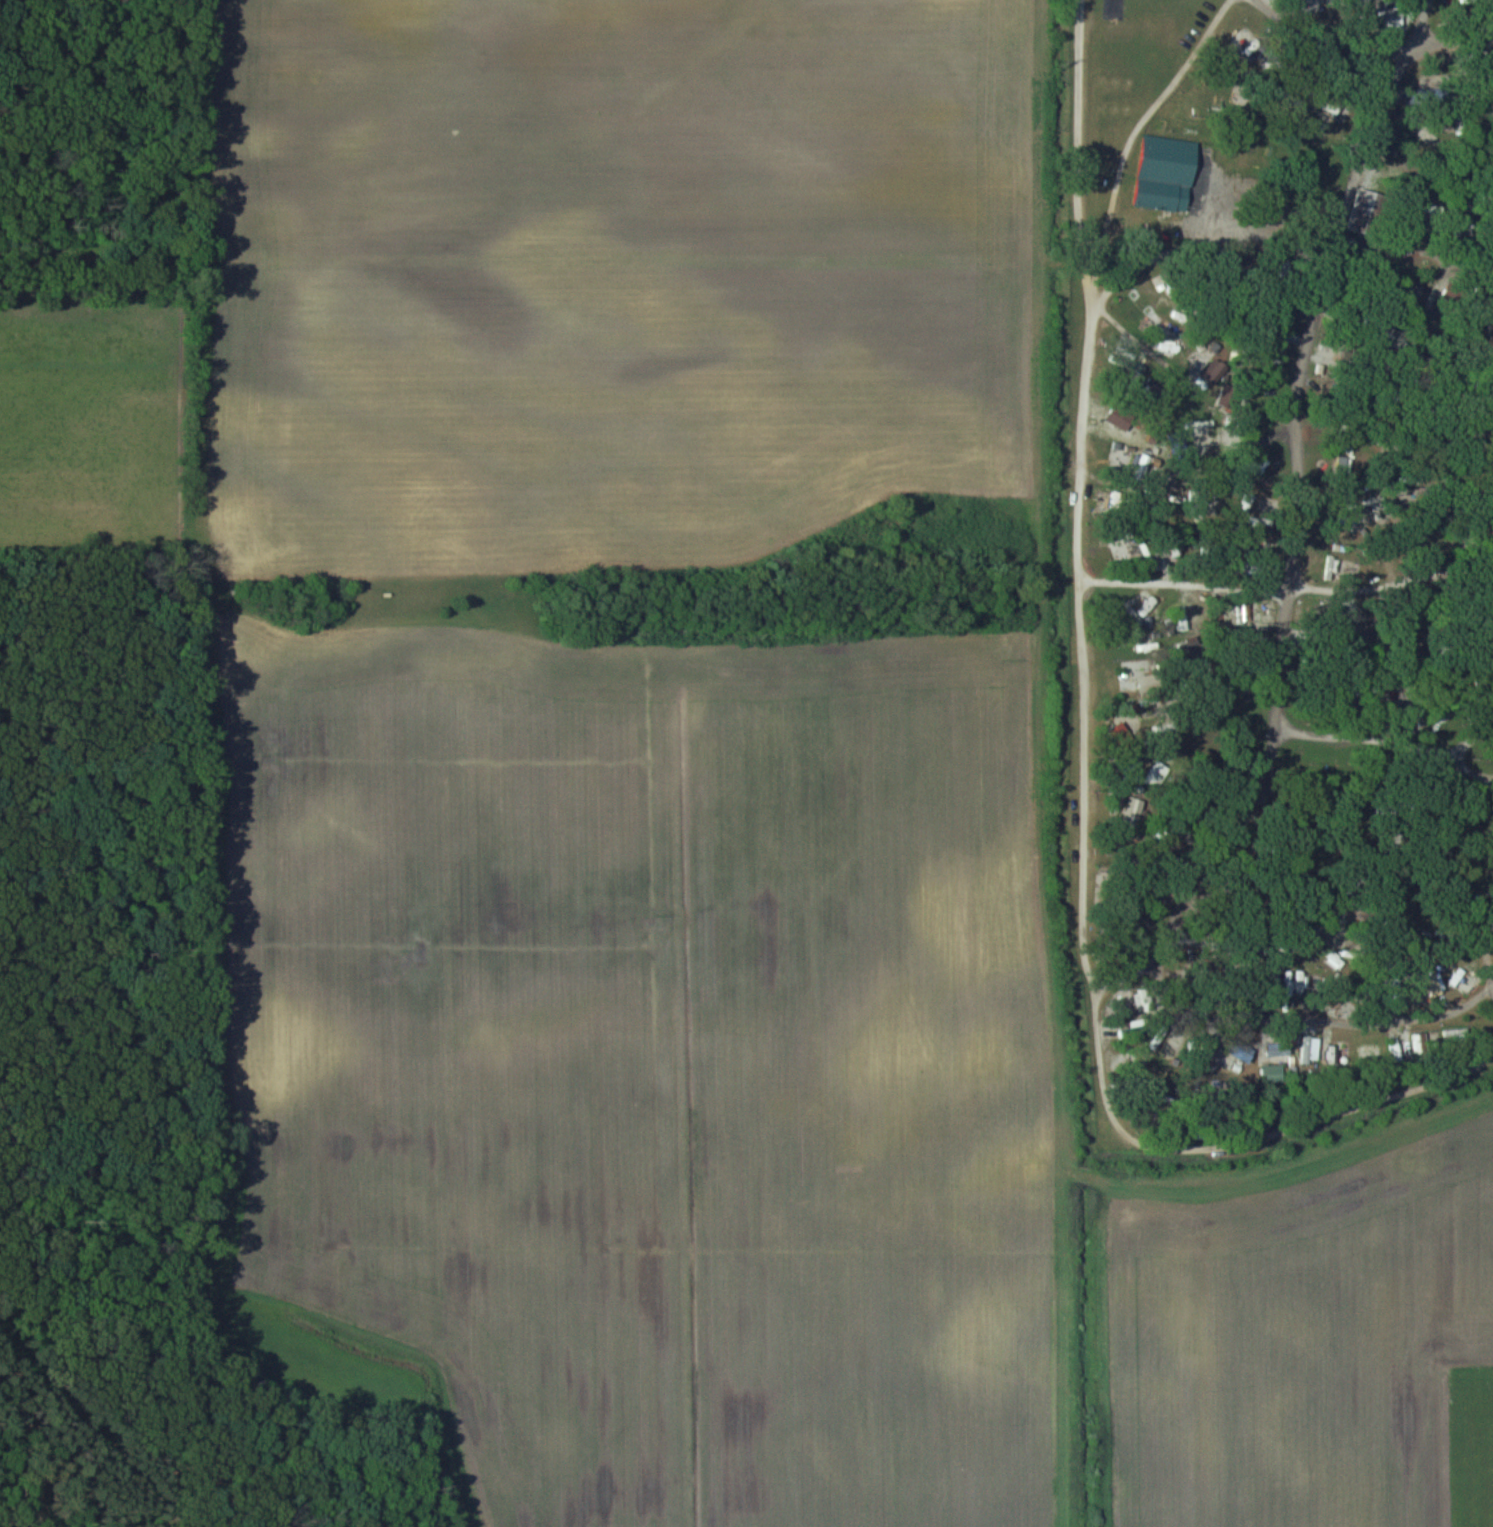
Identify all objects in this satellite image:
building: (1240, 83)
building: (1164, 173)
building: (1359, 210)
building: (1117, 419)
building: (1463, 981)
building: (1454, 1034)
building: (1421, 1041)
building: (1400, 1047)
building: (1236, 1056)
building: (1270, 1073)

